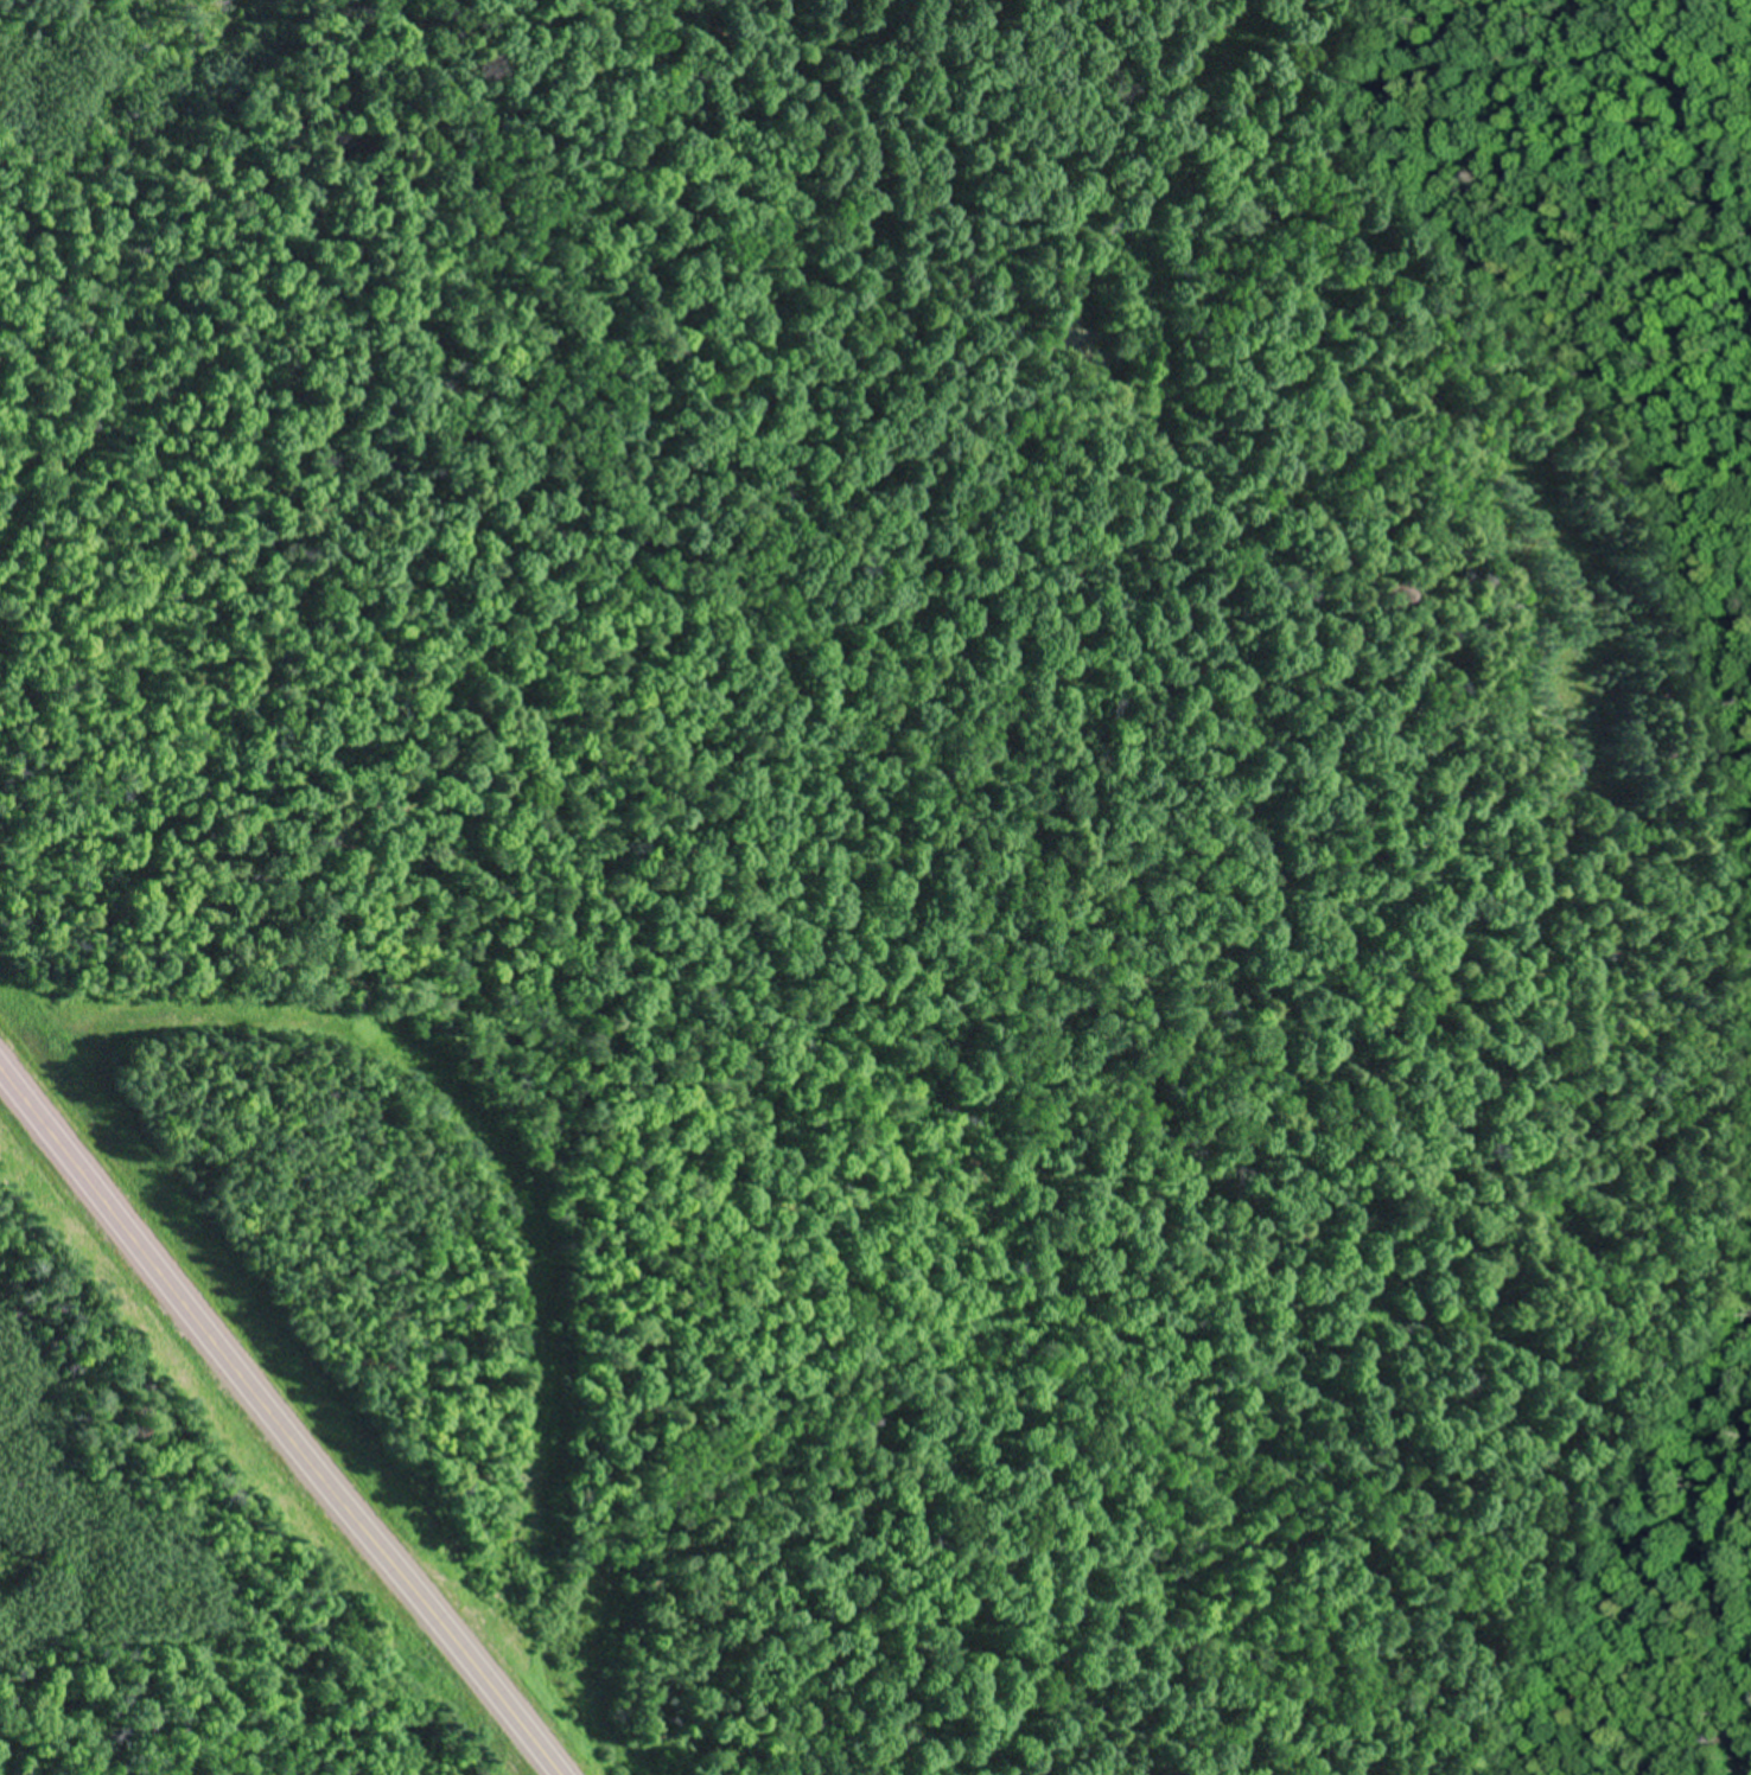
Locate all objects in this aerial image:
road: (527, 1149)
road: (279, 1417)

